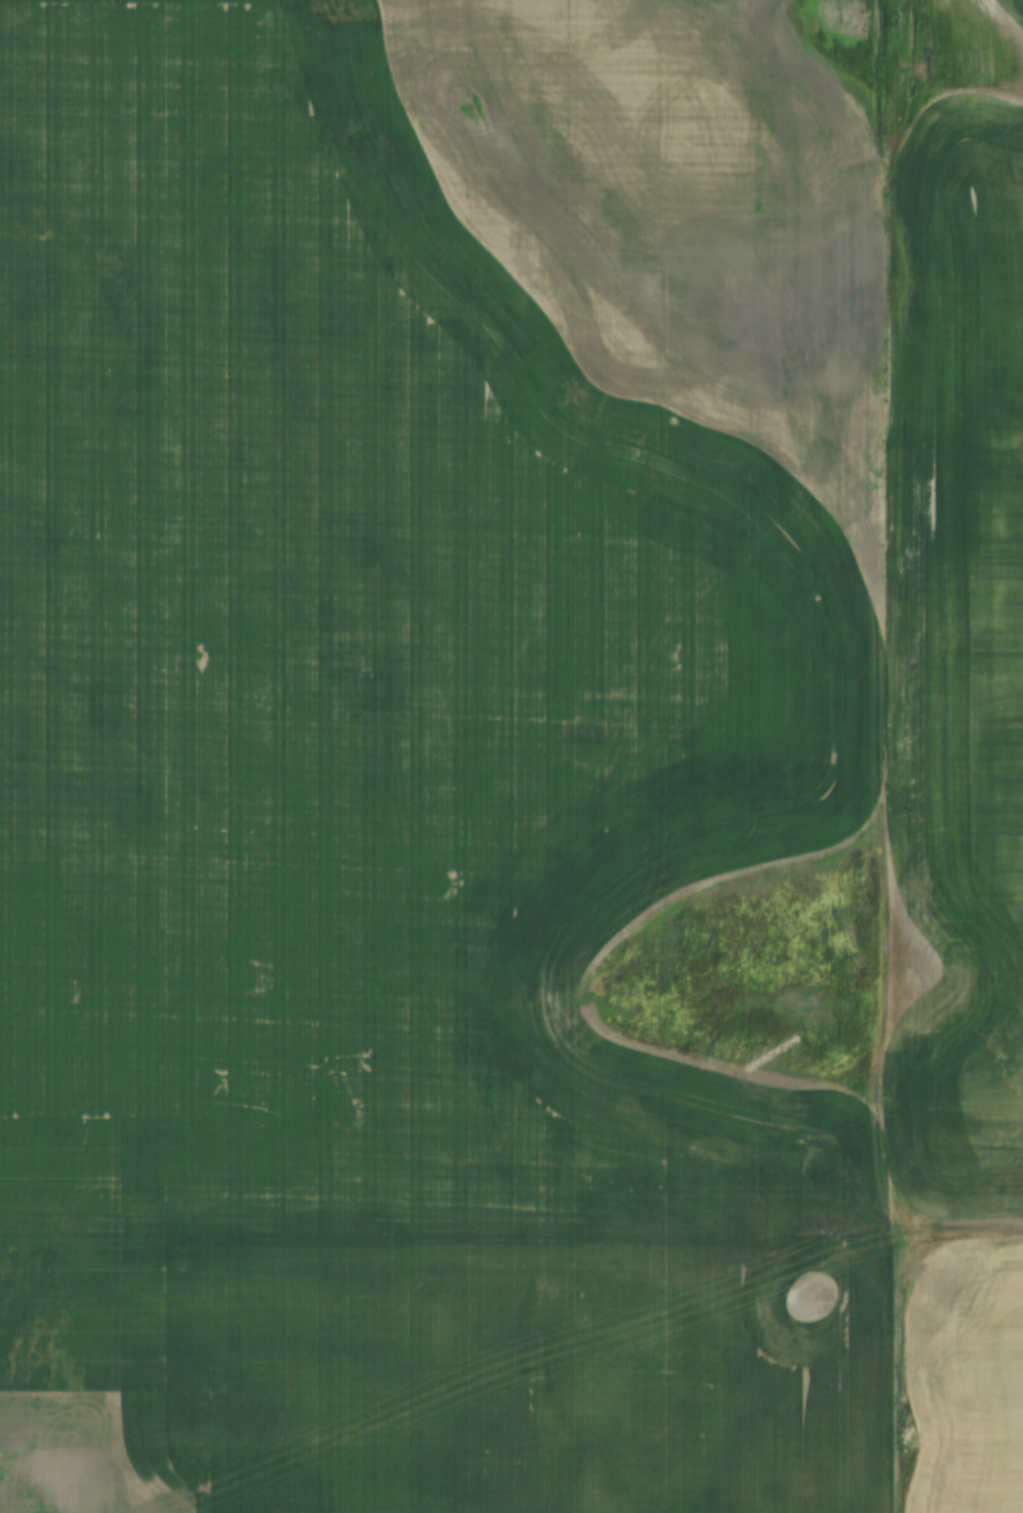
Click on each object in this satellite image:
road: (877, 705)

